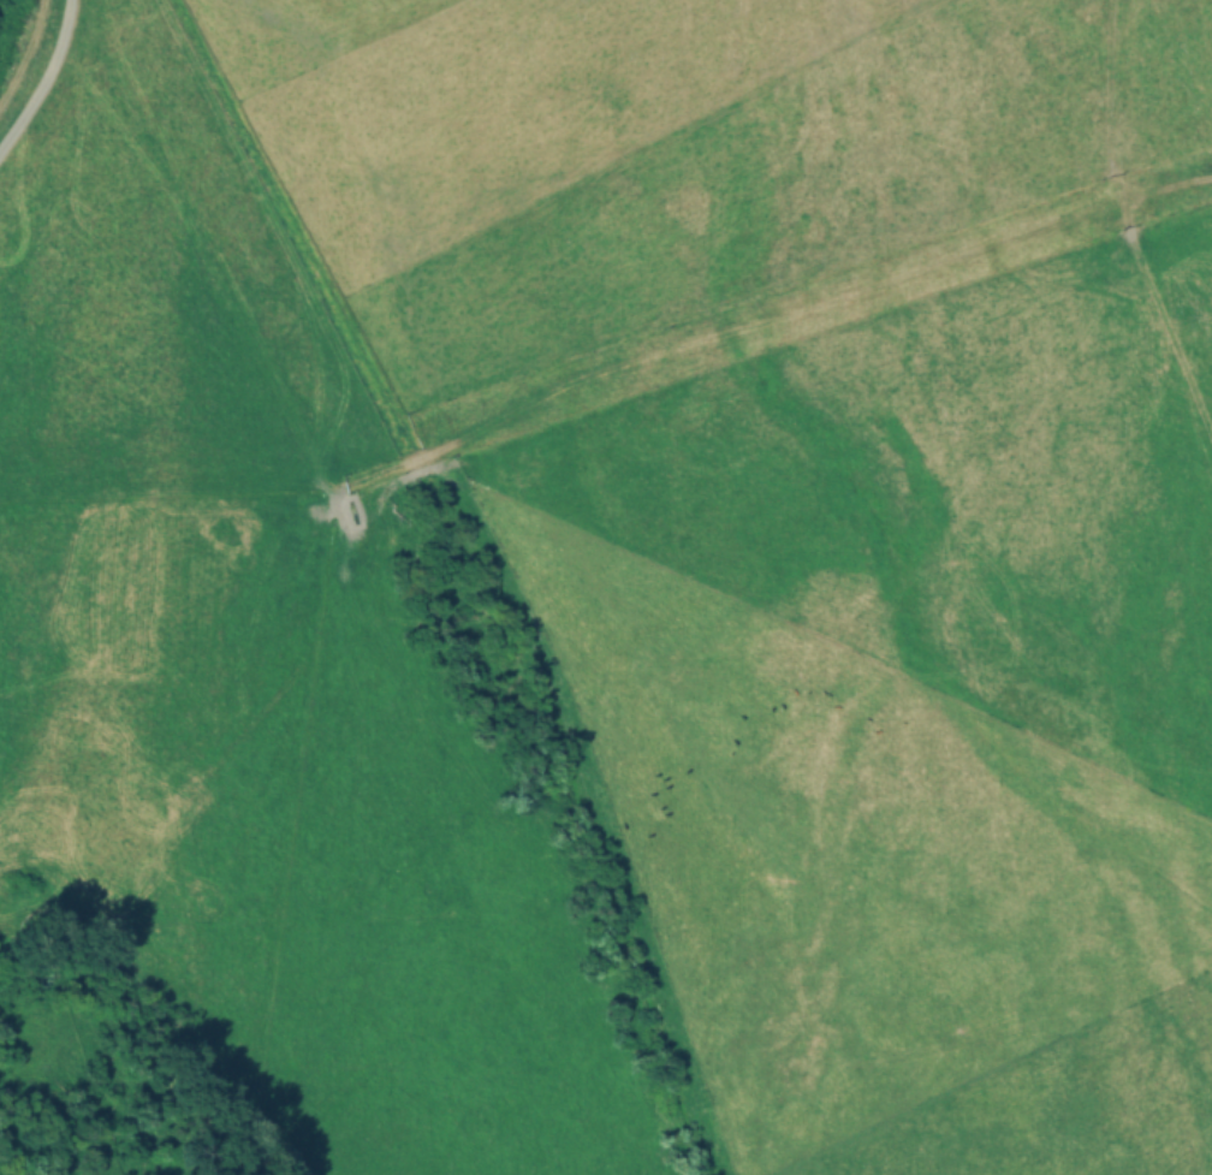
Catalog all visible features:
road: (44, 81)

